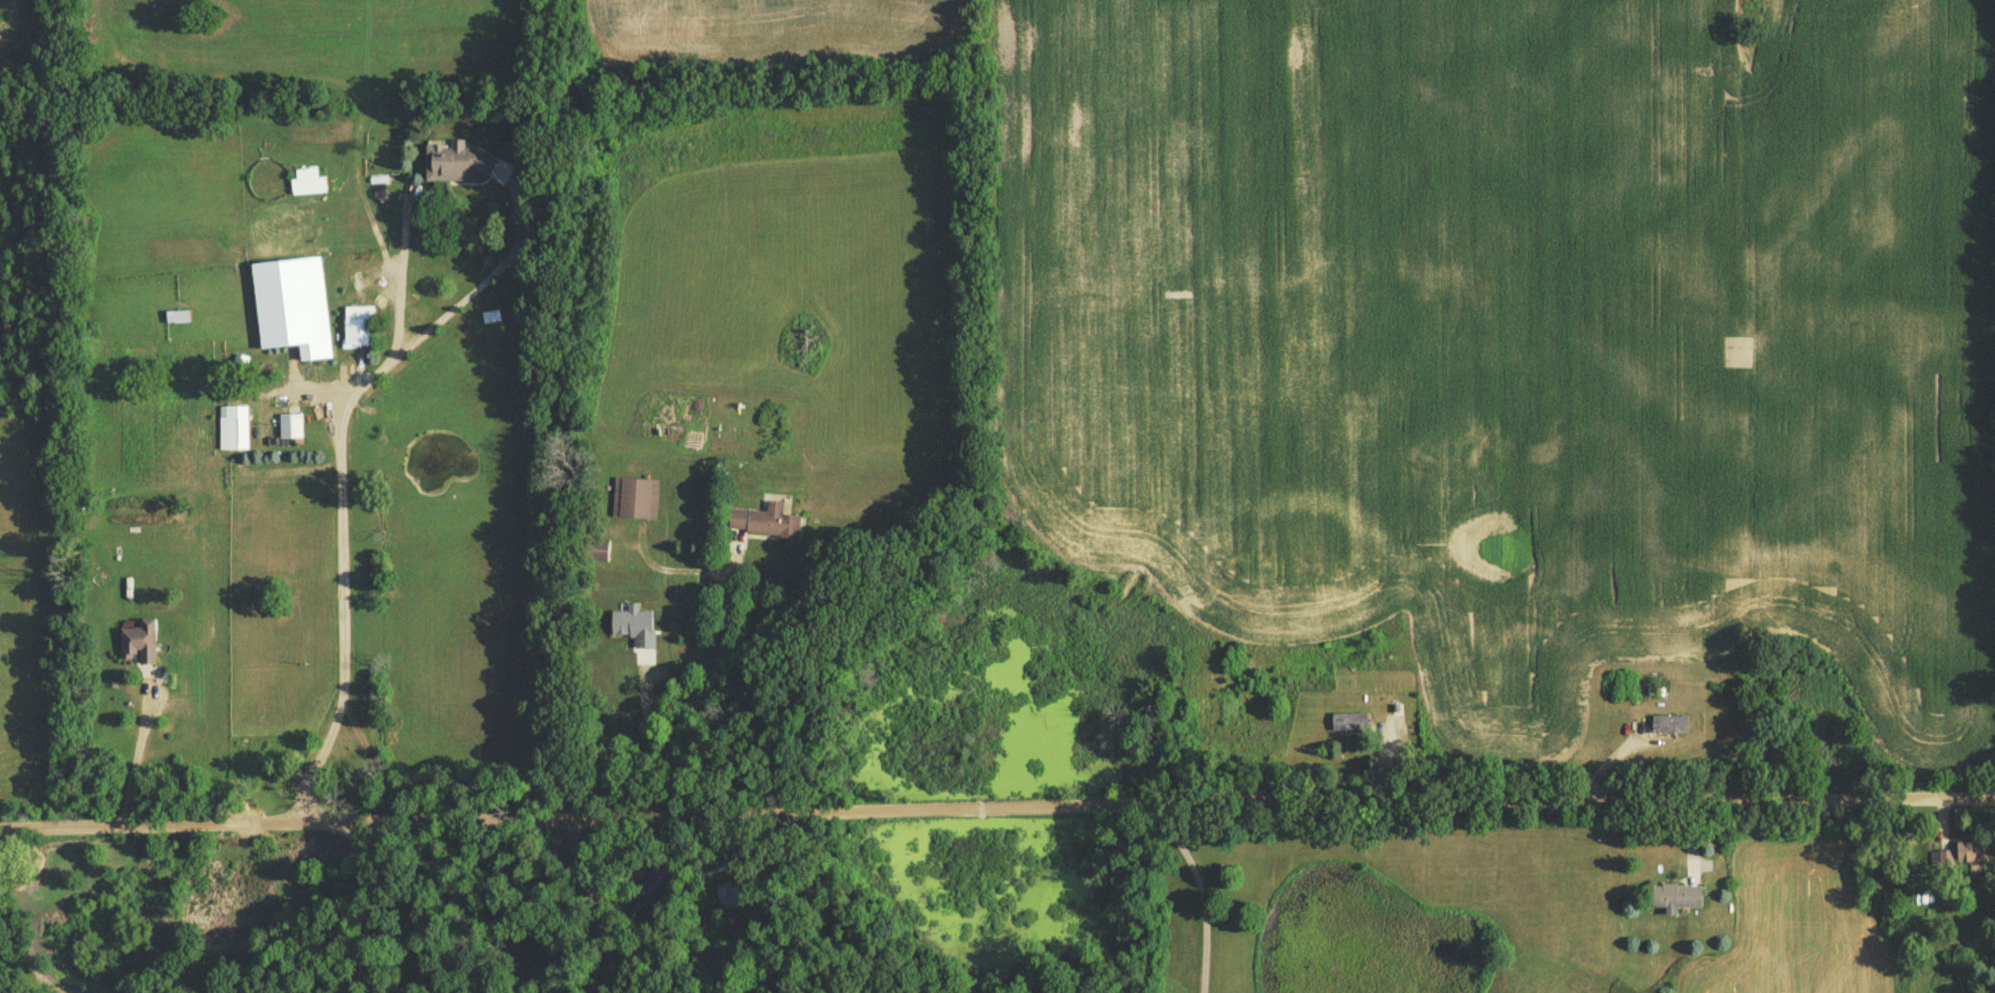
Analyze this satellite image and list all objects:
building: (468, 168)
road: (411, 272)
building: (294, 310)
building: (179, 319)
building: (493, 320)
building: (361, 329)
building: (292, 429)
building: (234, 430)
road: (341, 466)
building: (637, 501)
building: (766, 525)
building: (140, 643)
road: (703, 682)
building: (1671, 727)
road: (139, 746)
road: (997, 802)
building: (1973, 856)
road: (1205, 892)
building: (722, 897)
road: (593, 899)
building: (1679, 900)
road: (363, 904)

